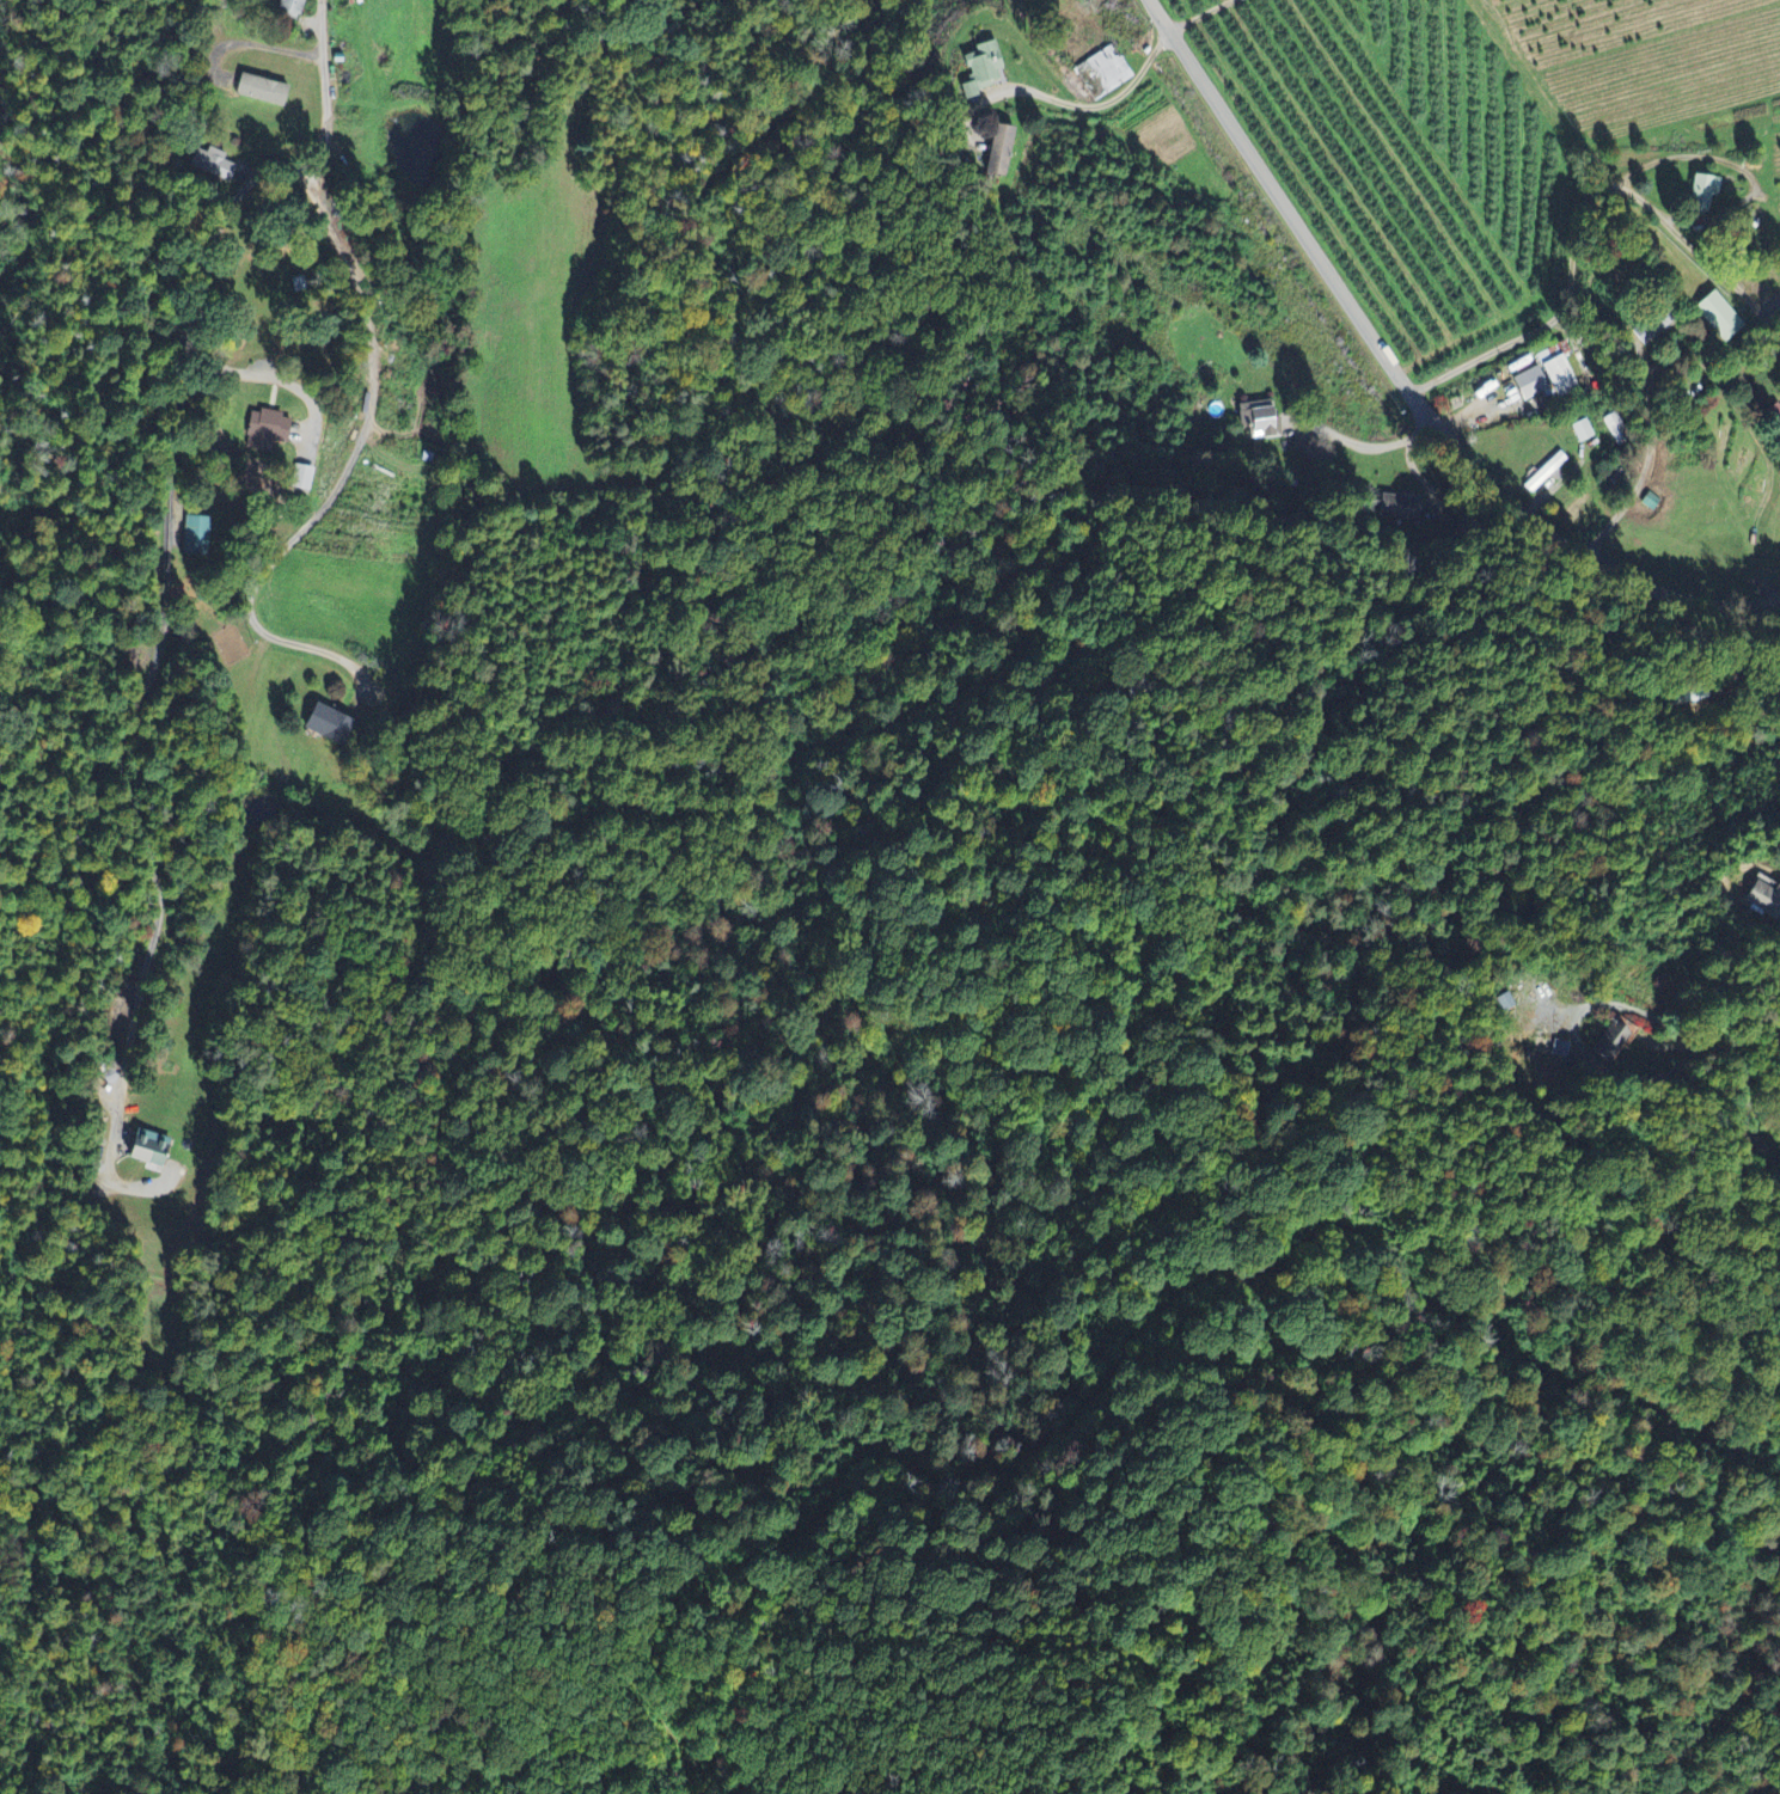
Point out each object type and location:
building: (293, 7)
road: (1191, 14)
road: (261, 44)
building: (984, 68)
building: (1111, 71)
building: (261, 90)
road: (1090, 106)
building: (216, 164)
building: (1703, 192)
road: (1603, 277)
building: (1721, 317)
building: (1653, 330)
building: (1559, 369)
road: (1405, 381)
building: (1531, 384)
building: (1259, 420)
building: (270, 425)
building: (1583, 431)
road: (1644, 437)
road: (1369, 445)
road: (349, 467)
building: (1546, 473)
road: (171, 521)
building: (194, 535)
building: (330, 725)
building: (1766, 898)
building: (1615, 1039)
road: (1724, 1053)
building: (145, 1150)

